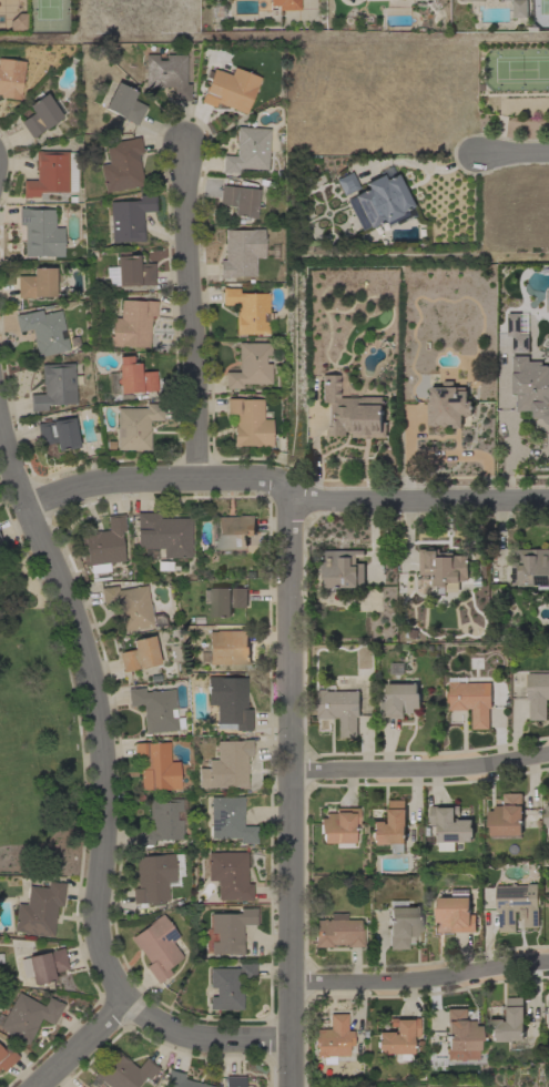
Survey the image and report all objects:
building: (474, 0)
building: (285, 4)
building: (519, 9)
building: (166, 74)
building: (10, 78)
building: (230, 89)
building: (123, 103)
building: (39, 115)
building: (247, 150)
road: (515, 153)
building: (121, 164)
building: (51, 173)
building: (346, 183)
building: (238, 200)
building: (379, 202)
building: (129, 217)
building: (40, 232)
building: (241, 252)
building: (129, 271)
building: (37, 283)
building: (547, 301)
building: (247, 311)
road: (192, 315)
building: (131, 323)
building: (43, 331)
building: (517, 332)
building: (250, 365)
building: (129, 377)
building: (54, 386)
building: (531, 386)
building: (447, 406)
building: (349, 412)
building: (248, 421)
road: (507, 424)
building: (135, 425)
building: (57, 433)
road: (287, 495)
building: (234, 531)
building: (163, 534)
building: (0, 541)
building: (102, 542)
building: (443, 568)
building: (530, 568)
building: (342, 570)
building: (224, 600)
building: (129, 606)
building: (227, 647)
building: (139, 653)
building: (537, 694)
building: (399, 701)
building: (471, 701)
building: (228, 702)
road: (90, 705)
building: (155, 709)
building: (339, 709)
park: (34, 739)
building: (226, 764)
building: (156, 765)
road: (419, 769)
road: (289, 792)
building: (506, 817)
building: (547, 817)
building: (228, 819)
building: (162, 821)
building: (338, 825)
building: (449, 826)
building: (390, 827)
building: (228, 874)
building: (155, 877)
building: (517, 906)
building: (38, 910)
building: (456, 912)
building: (403, 923)
building: (227, 931)
building: (337, 931)
building: (157, 946)
building: (42, 965)
road: (419, 979)
building: (227, 986)
building: (548, 1009)
building: (28, 1015)
building: (508, 1023)
building: (460, 1036)
building: (398, 1037)
road: (202, 1039)
building: (333, 1039)
road: (80, 1043)
building: (7, 1057)
building: (123, 1070)
building: (181, 1080)
building: (233, 1080)
building: (548, 1084)

